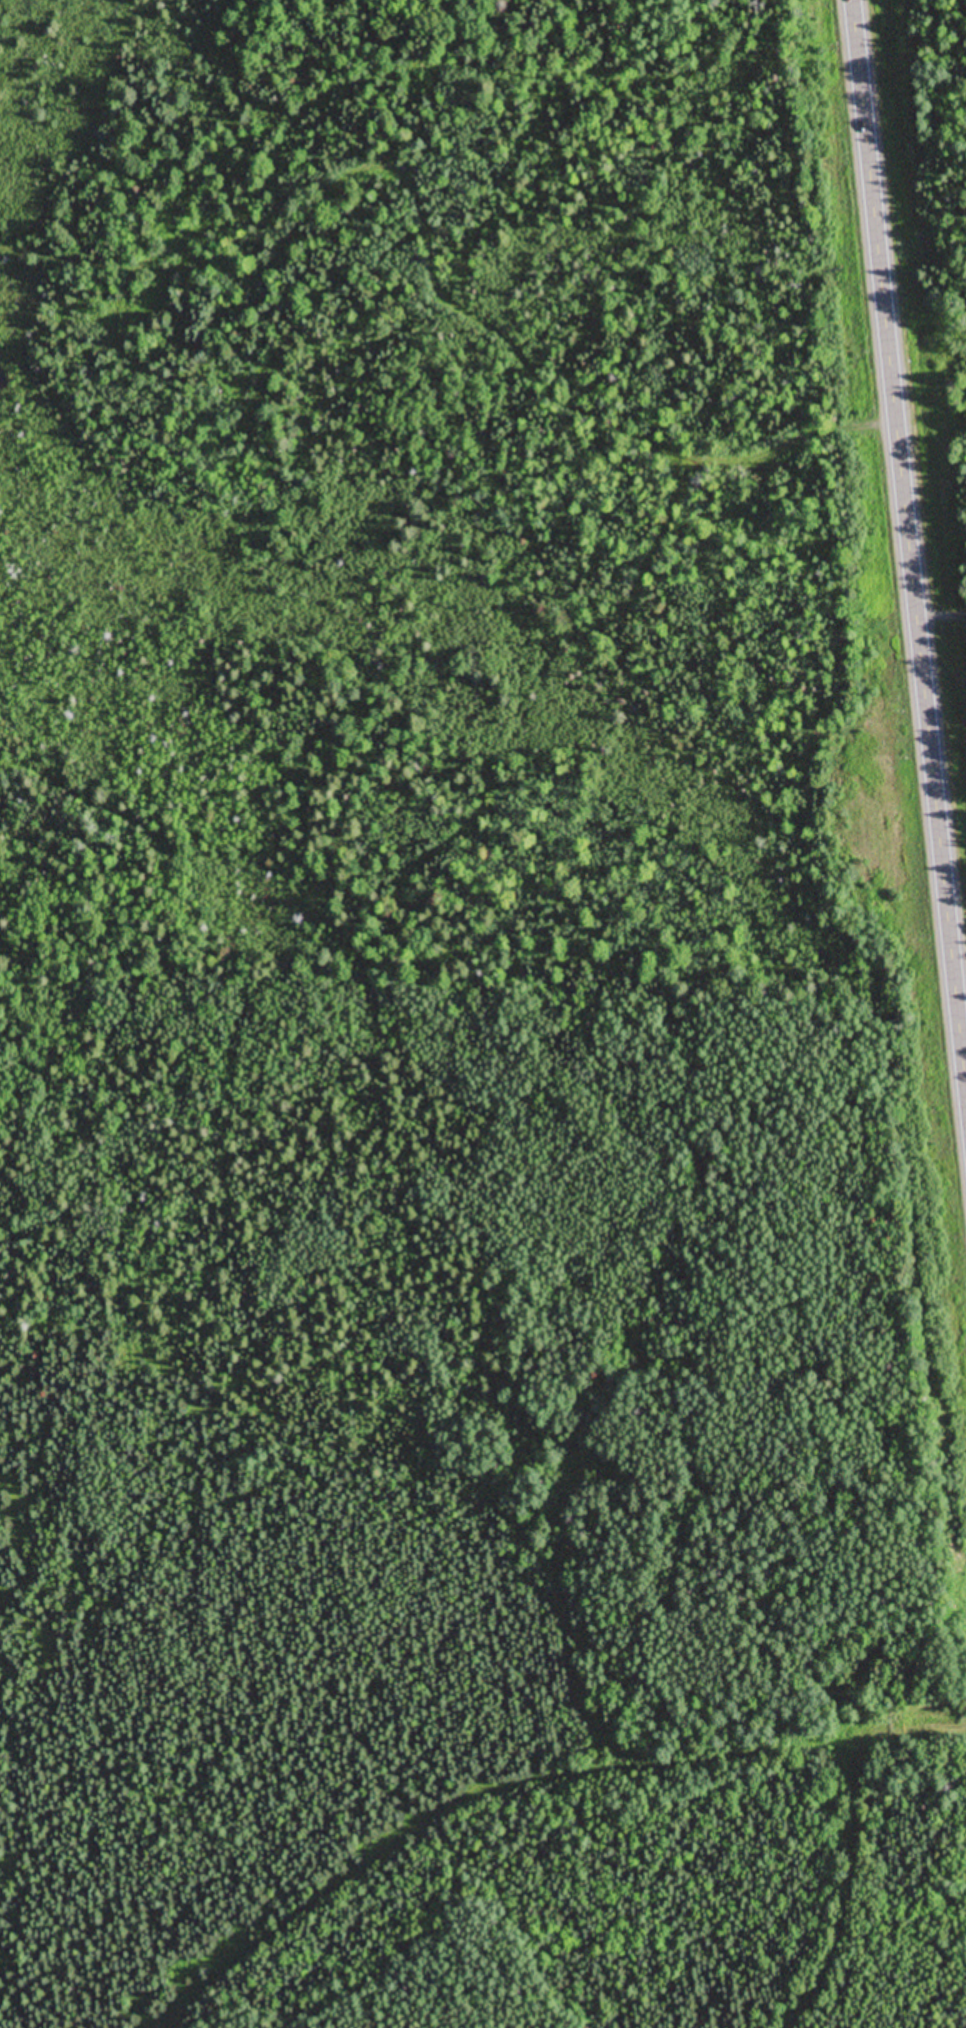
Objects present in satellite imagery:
road: (386, 193)
road: (790, 392)
road: (909, 540)
road: (438, 770)

